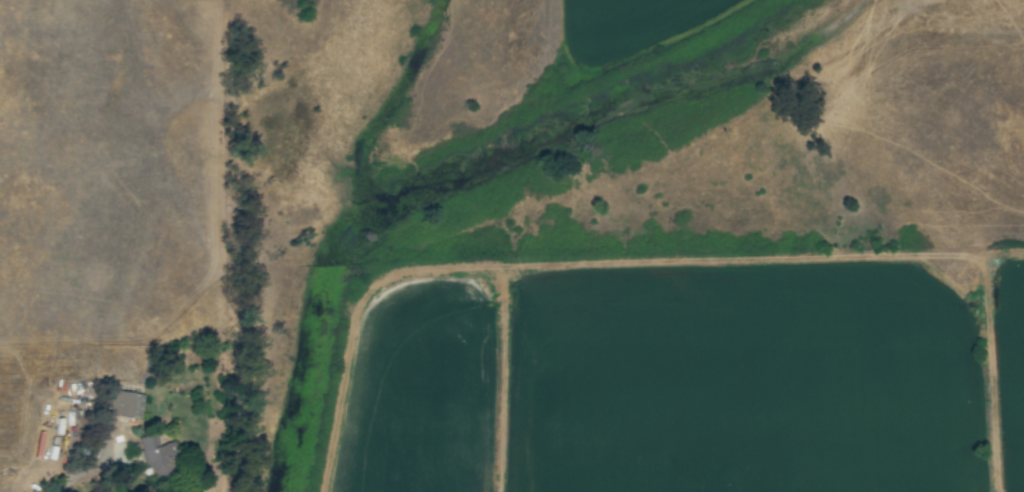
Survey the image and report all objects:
building: (123, 404)
building: (151, 448)
road: (62, 469)

